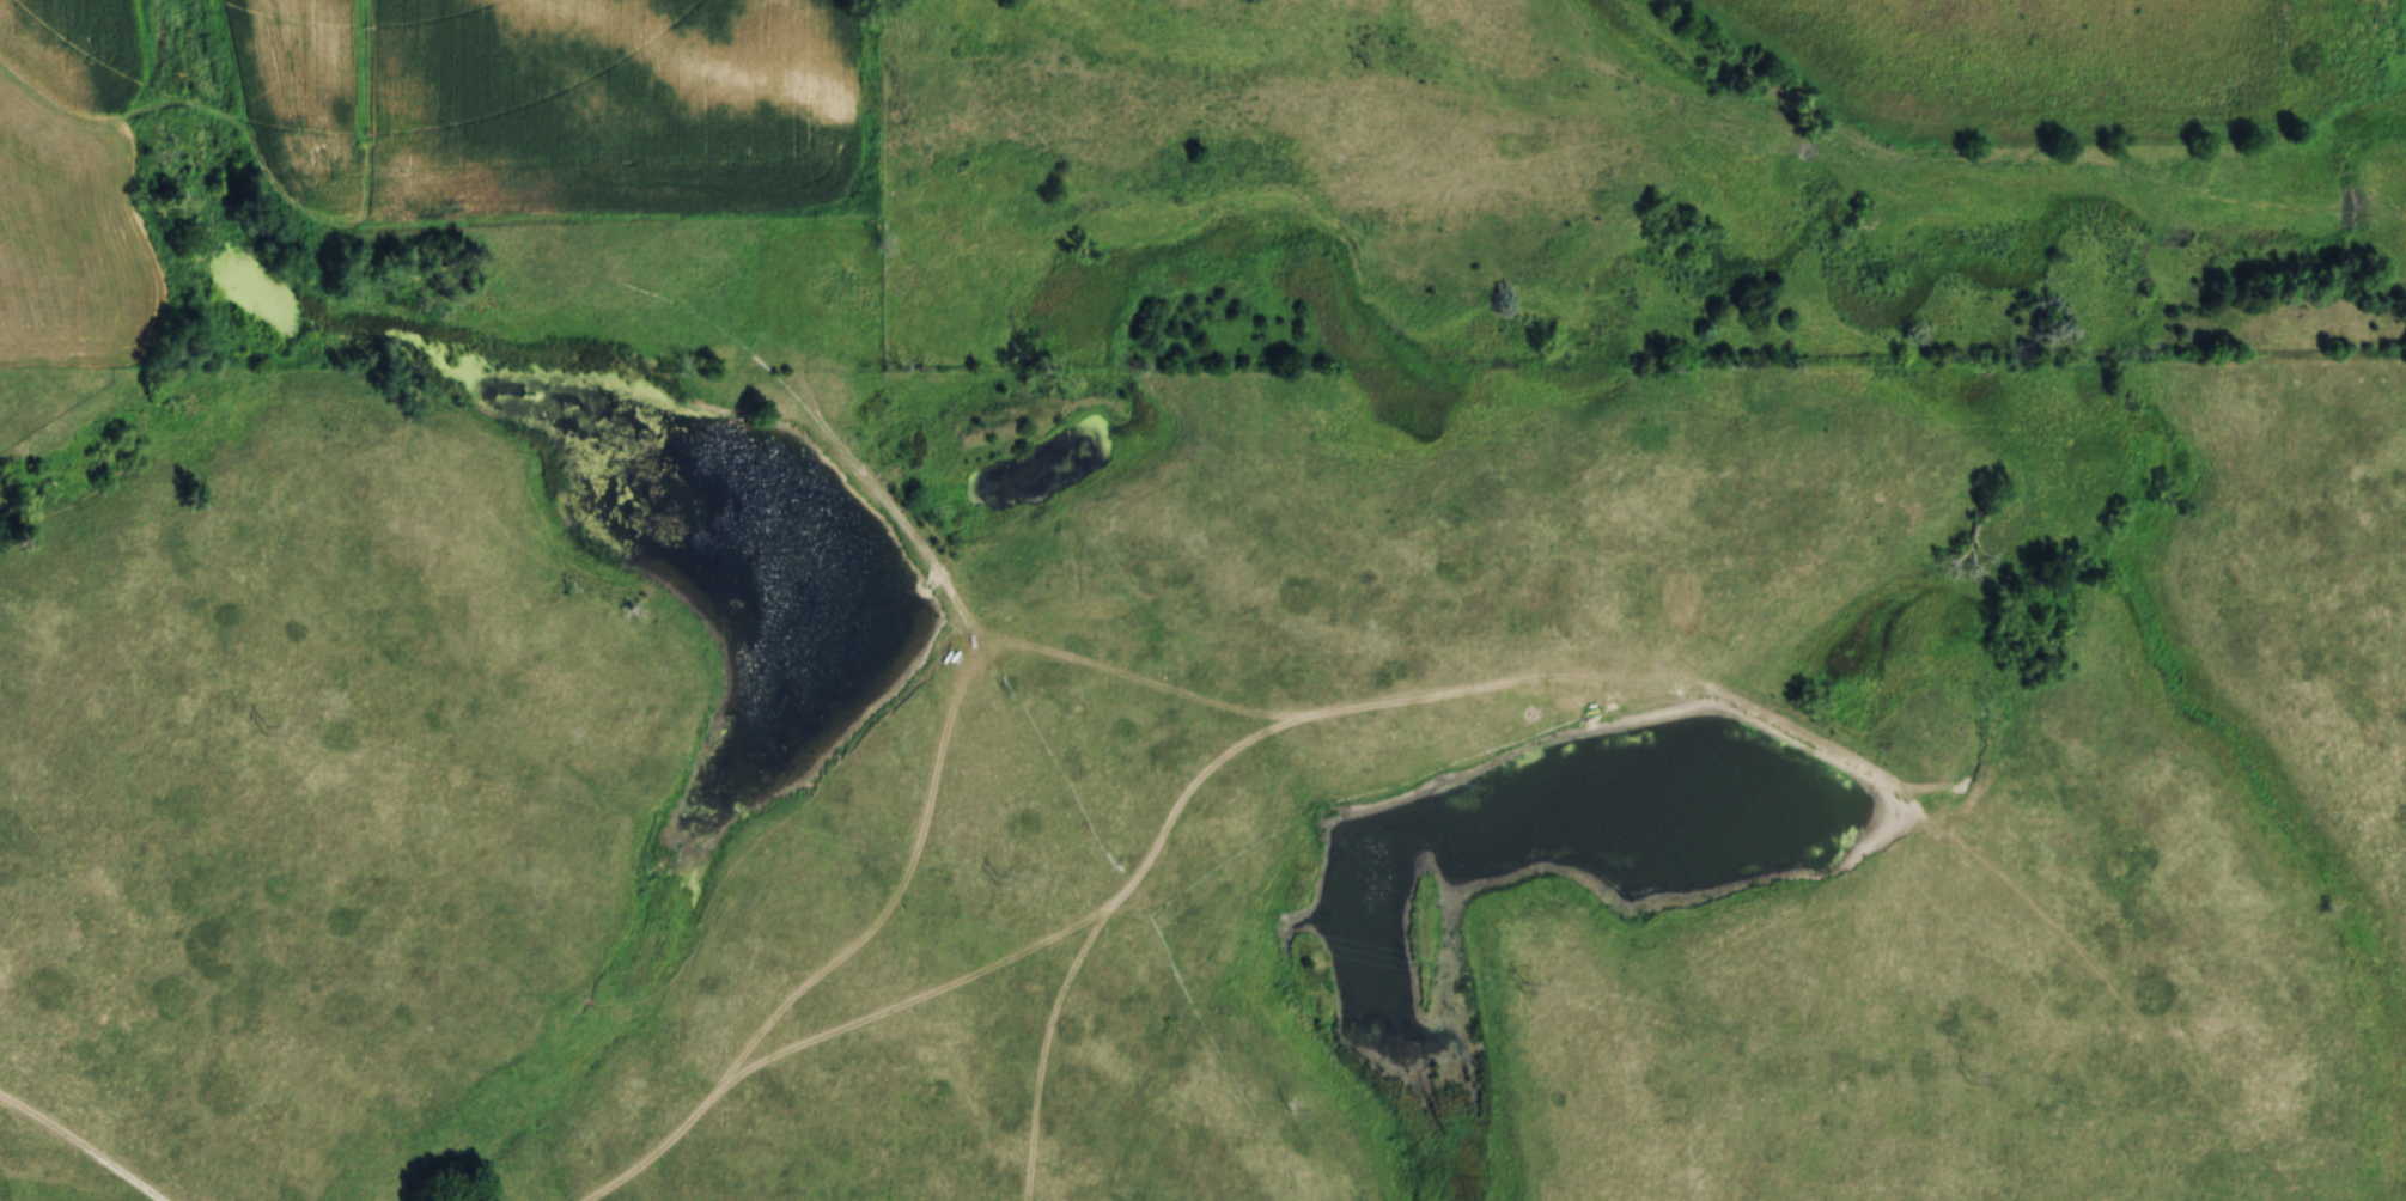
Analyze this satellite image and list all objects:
dam: (1815, 738)

